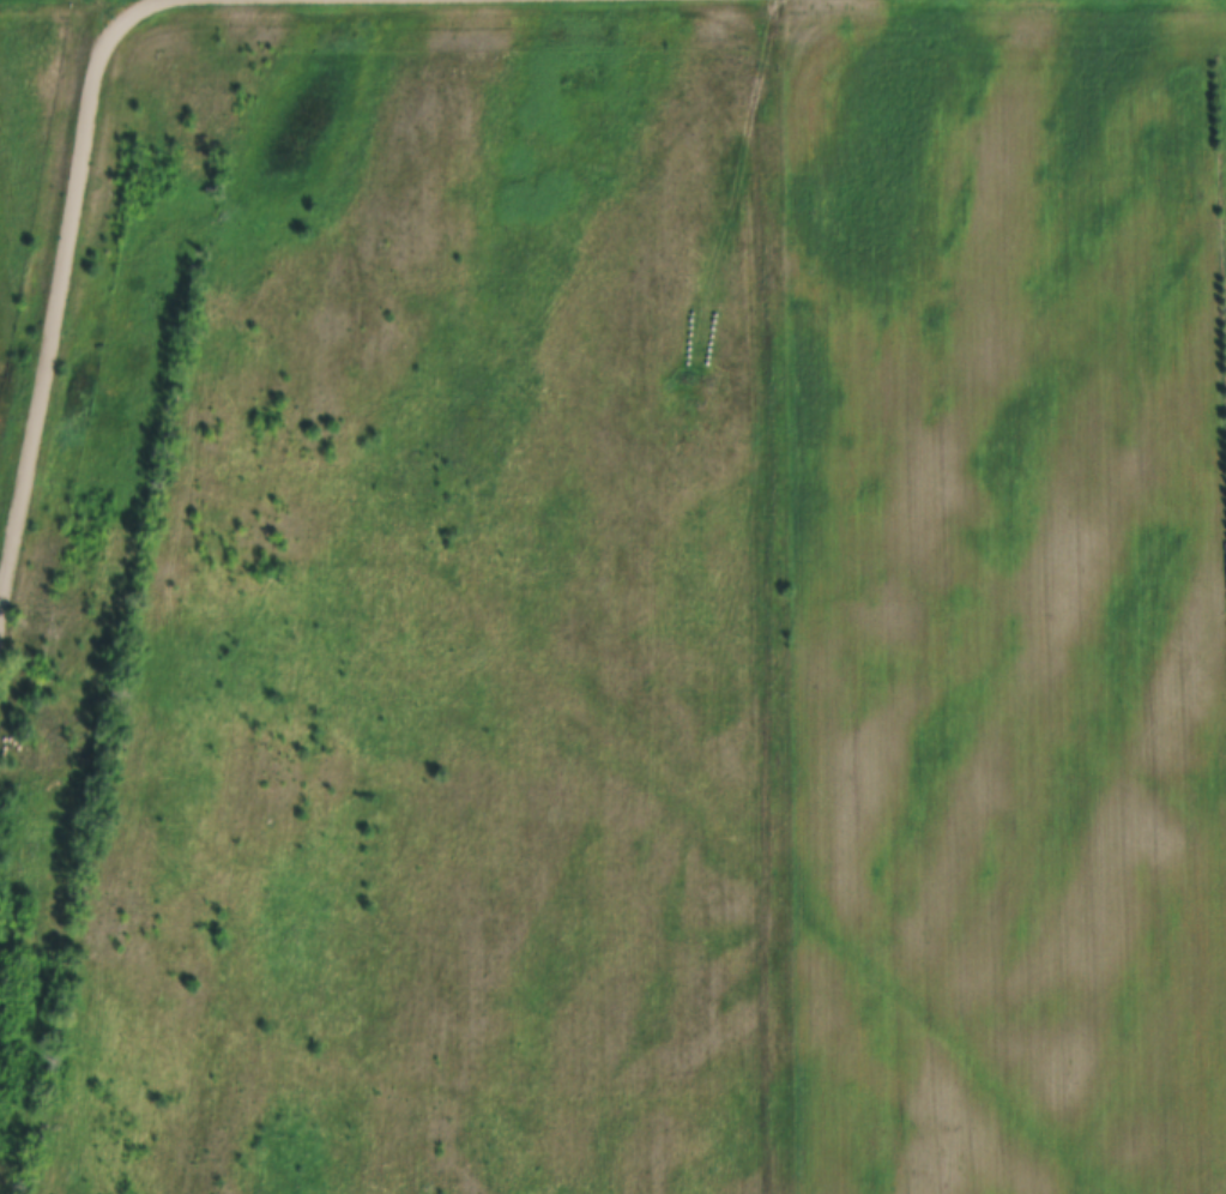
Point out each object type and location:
road: (56, 293)

